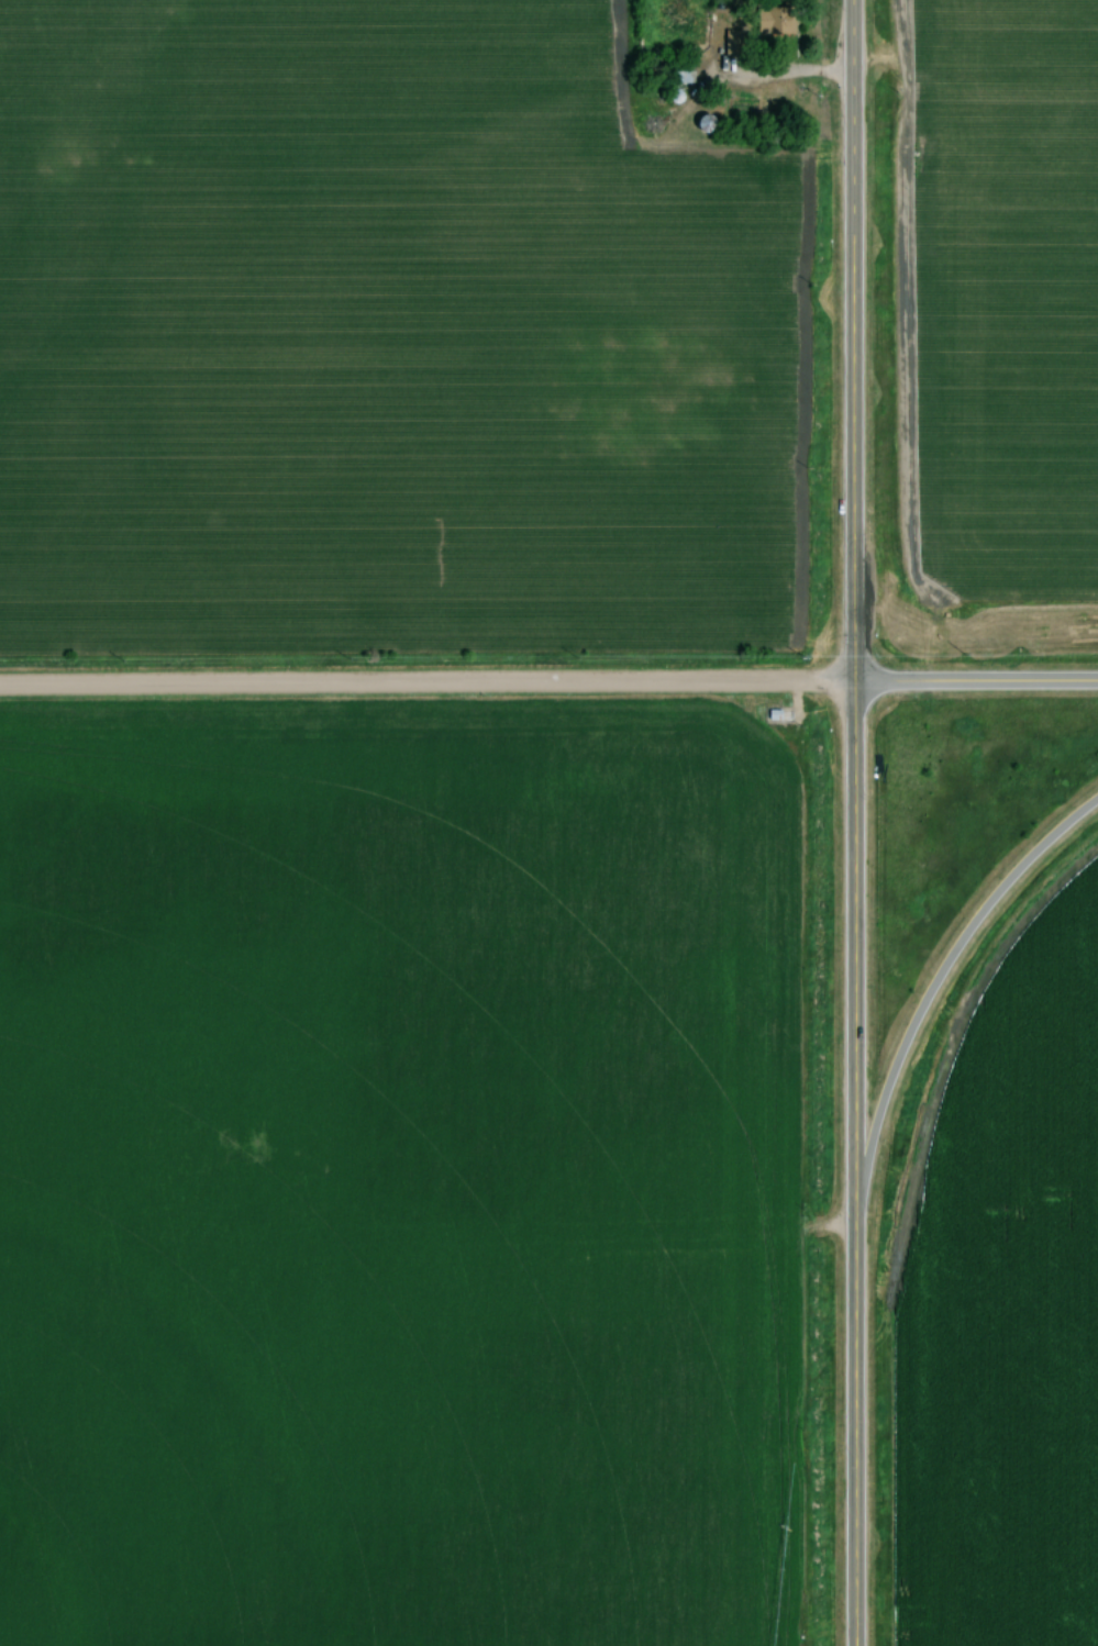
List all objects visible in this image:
building: (787, 22)
building: (687, 77)
building: (710, 124)
crop: (1010, 292)
crop: (380, 340)
road: (426, 683)
road: (976, 683)
road: (854, 823)
road: (940, 976)
crop: (403, 1182)
crop: (1007, 1317)

